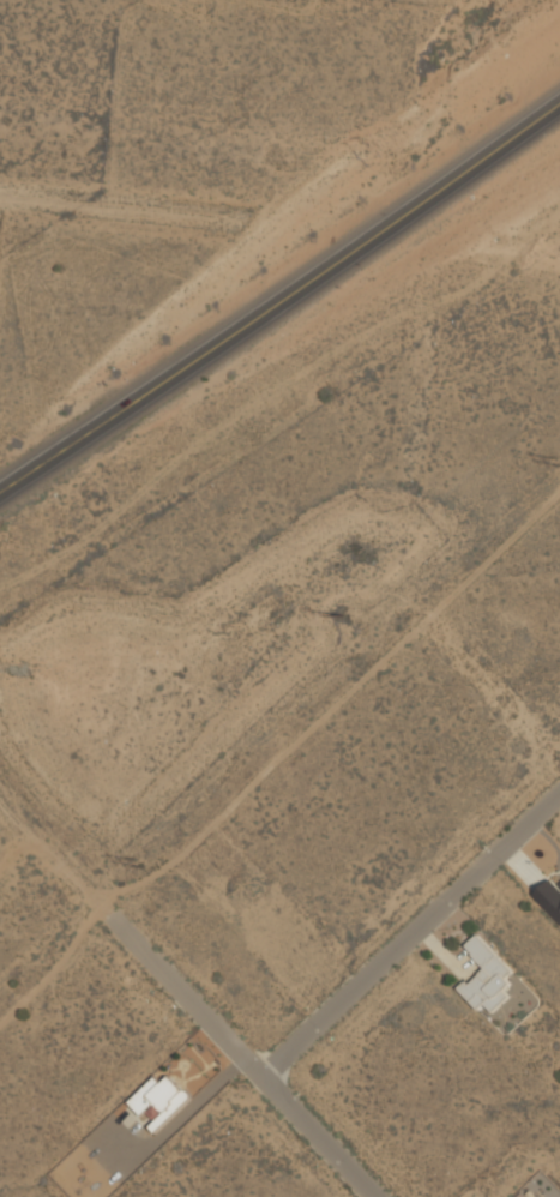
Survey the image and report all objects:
road: (282, 299)
power tower: (558, 468)
power tower: (341, 616)
power tower: (139, 868)
road: (410, 936)
building: (486, 976)
building: (517, 987)
road: (257, 1073)
building: (158, 1100)

